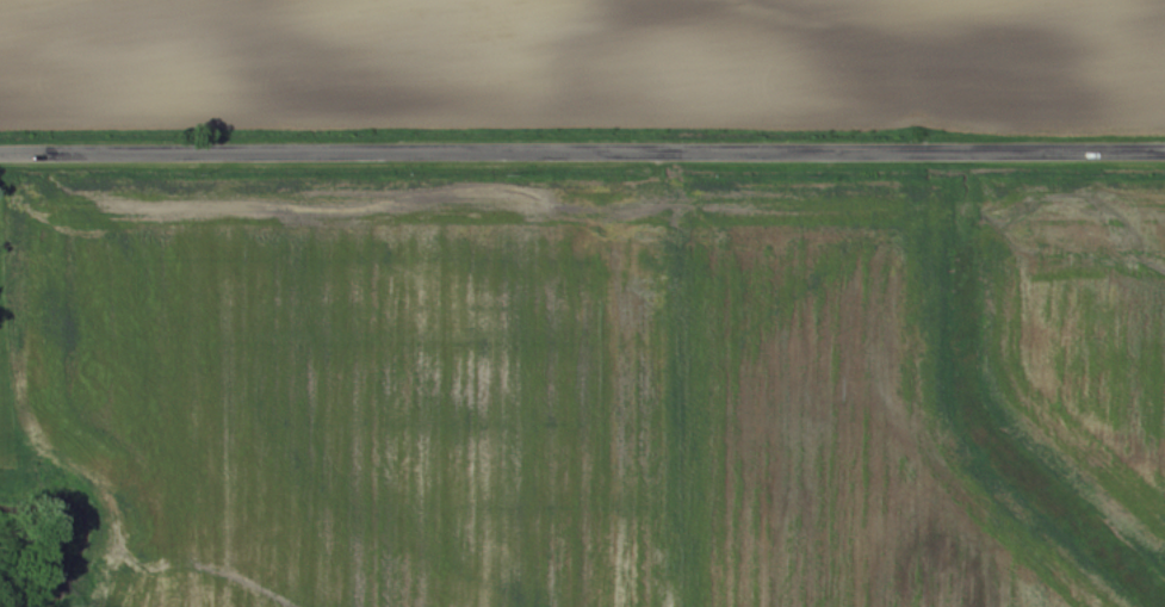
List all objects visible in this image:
road: (582, 151)

